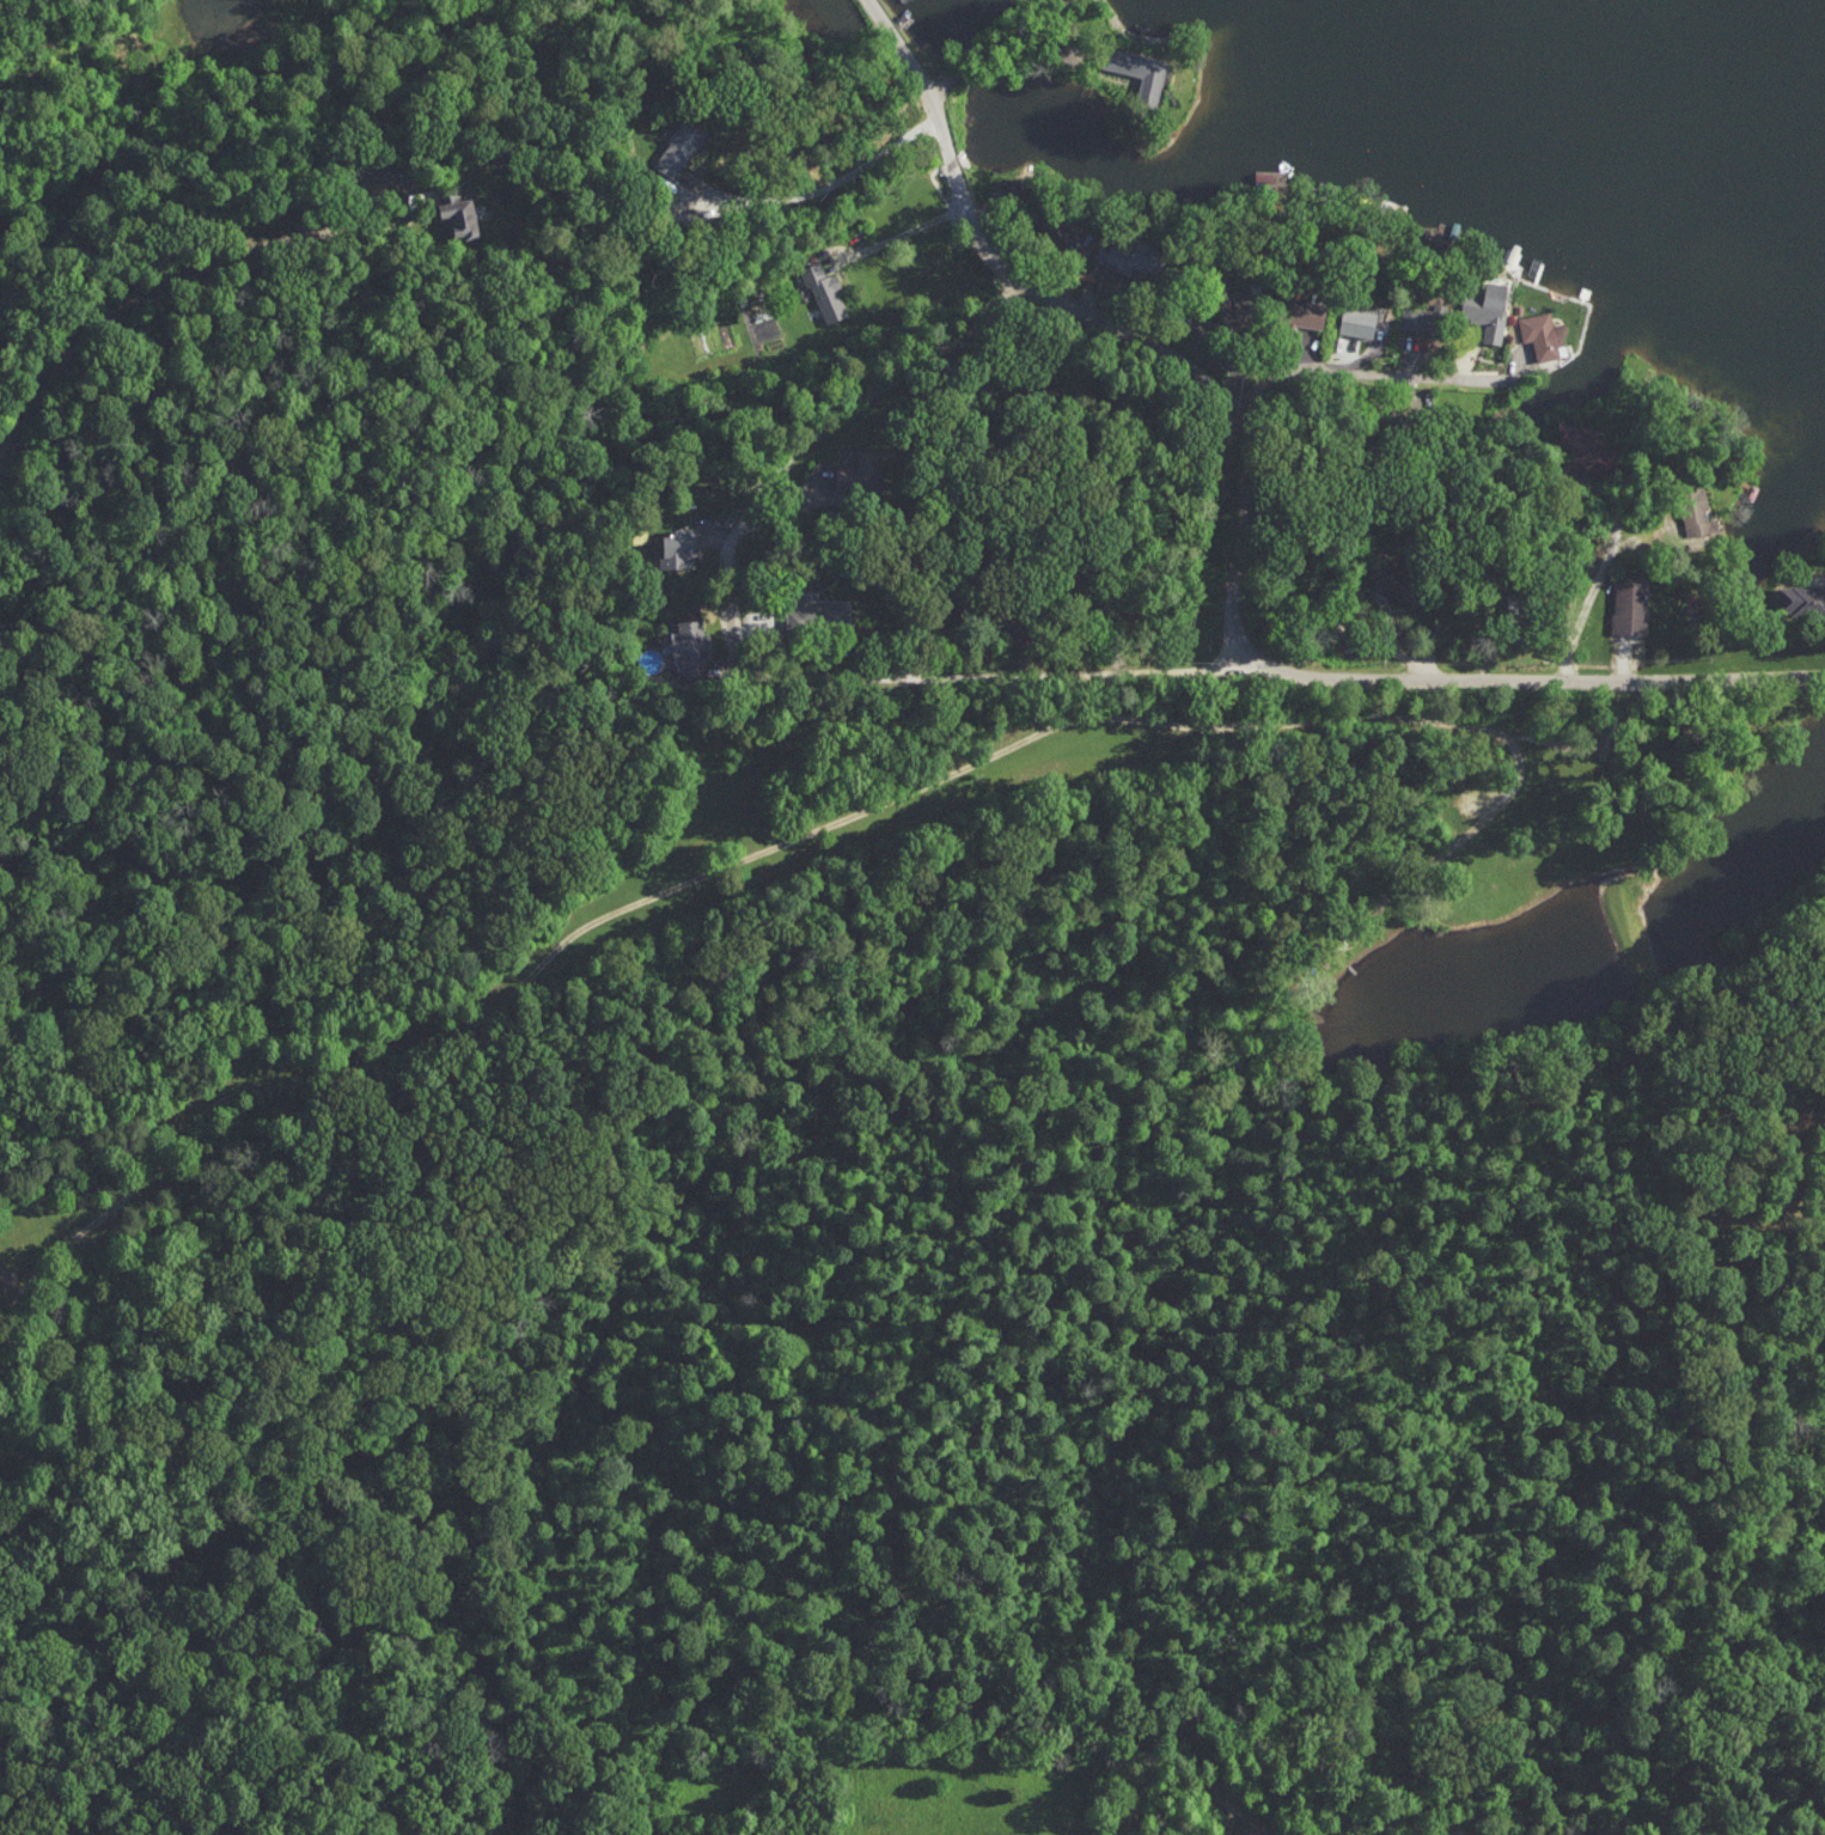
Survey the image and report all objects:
building: (1141, 69)
road: (1018, 75)
building: (678, 148)
road: (826, 183)
building: (458, 213)
road: (902, 225)
building: (1055, 228)
building: (1131, 252)
road: (154, 289)
building: (825, 291)
building: (1489, 309)
building: (1310, 311)
building: (1422, 318)
building: (1360, 321)
road: (1119, 322)
building: (1542, 334)
road: (1311, 346)
building: (1587, 446)
road: (1543, 450)
building: (862, 474)
road: (17, 516)
building: (1697, 517)
building: (680, 548)
building: (1397, 580)
building: (1802, 601)
building: (1630, 605)
building: (820, 612)
building: (692, 647)
road: (756, 650)
road: (1530, 690)
road: (414, 1065)
building: (6, 1279)

